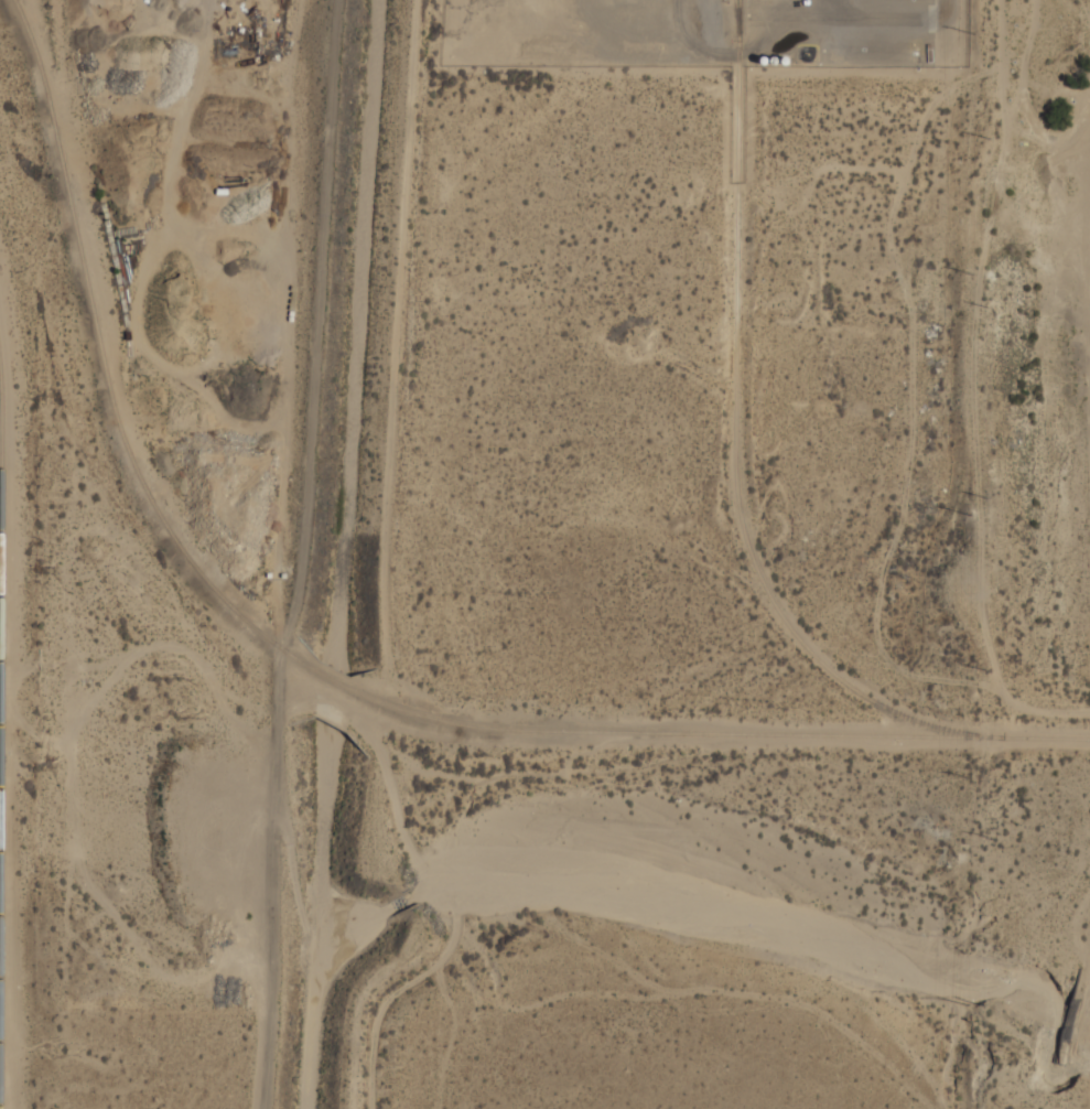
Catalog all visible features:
road: (942, 3)
railway: (104, 365)
railway: (736, 445)
railway: (1, 564)
railway: (339, 683)
railway: (729, 732)
railway: (1, 764)
railway: (0, 940)

